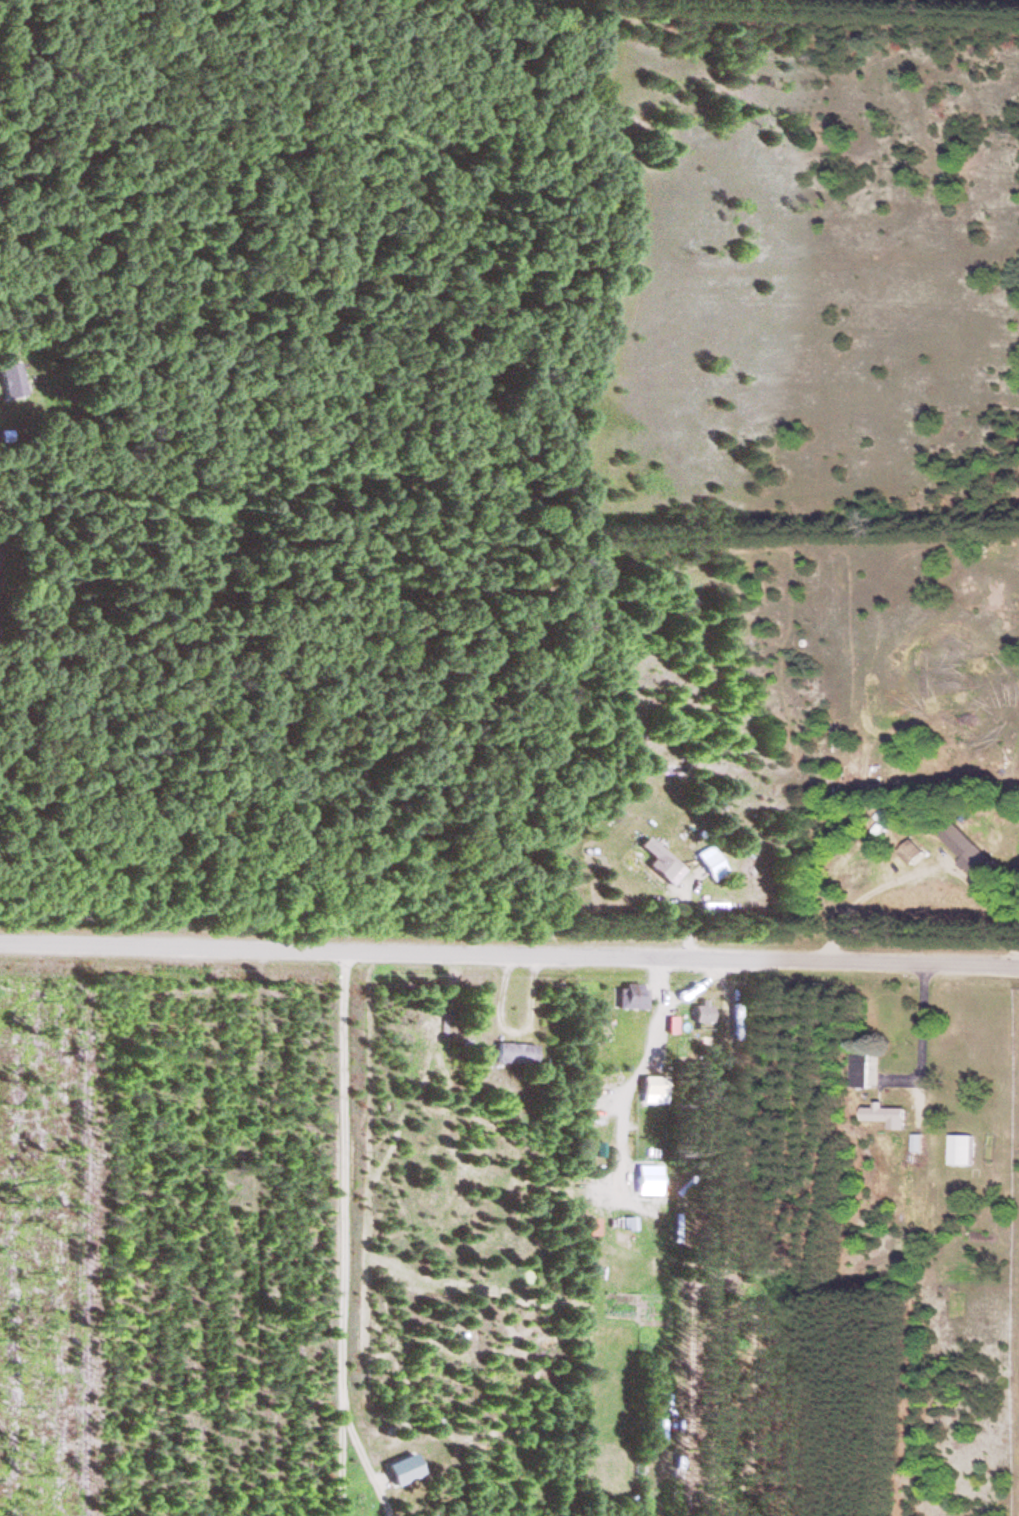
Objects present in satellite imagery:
building: (658, 860)
building: (712, 865)
road: (509, 955)
building: (513, 1055)
building: (857, 1071)
building: (652, 1091)
building: (957, 1152)
building: (649, 1181)

